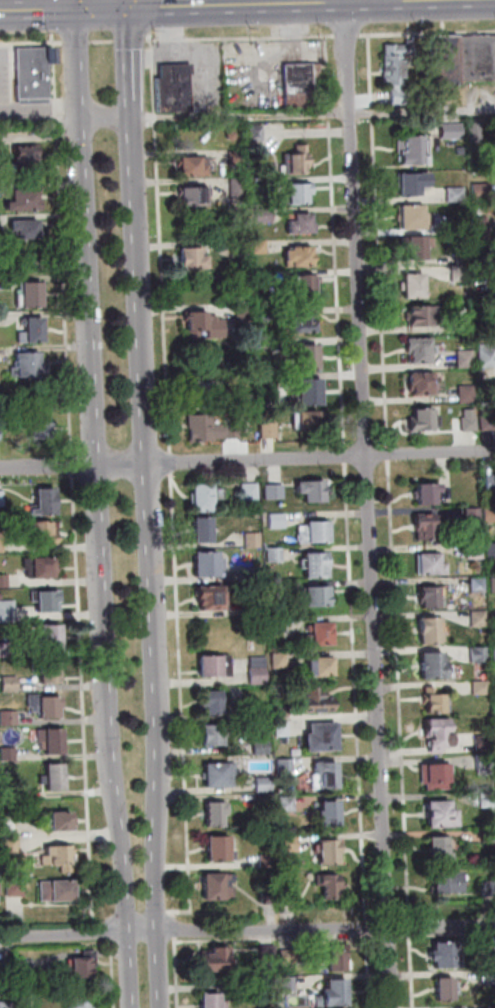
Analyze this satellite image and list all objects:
road: (385, 0)
road: (403, 0)
road: (366, 1)
road: (239, 2)
road: (130, 3)
road: (176, 3)
road: (78, 4)
road: (238, 4)
road: (26, 5)
traffic signals: (166, 6)
road: (104, 8)
road: (39, 10)
traffic signals: (46, 10)
road: (156, 14)
road: (55, 15)
road: (429, 33)
road: (350, 35)
road: (333, 36)
road: (132, 39)
road: (105, 40)
road: (79, 41)
road: (32, 42)
traffic signals: (132, 49)
road: (132, 51)
building: (478, 58)
building: (448, 60)
road: (78, 63)
building: (398, 68)
building: (35, 73)
parking lot: (5, 75)
building: (306, 85)
building: (176, 87)
road: (133, 106)
road: (40, 108)
road: (314, 113)
road: (106, 116)
road: (40, 118)
building: (453, 130)
building: (478, 131)
building: (259, 132)
building: (233, 135)
building: (415, 150)
building: (462, 150)
road: (333, 153)
building: (25, 157)
building: (238, 157)
building: (298, 160)
building: (195, 165)
building: (415, 181)
building: (259, 183)
building: (239, 187)
building: (483, 191)
building: (298, 193)
building: (457, 193)
building: (196, 195)
building: (26, 198)
building: (266, 215)
building: (415, 216)
building: (302, 223)
building: (458, 223)
building: (482, 223)
building: (27, 227)
road: (162, 239)
road: (380, 241)
road: (64, 242)
building: (261, 245)
building: (419, 246)
building: (242, 247)
building: (301, 255)
building: (193, 258)
building: (464, 258)
building: (462, 273)
building: (263, 278)
building: (306, 283)
building: (415, 284)
building: (35, 293)
building: (265, 311)
building: (245, 313)
building: (424, 314)
building: (483, 320)
building: (304, 322)
building: (205, 324)
building: (467, 324)
building: (35, 330)
building: (421, 348)
building: (487, 355)
building: (309, 356)
building: (467, 358)
building: (31, 364)
building: (270, 382)
building: (425, 382)
building: (202, 390)
building: (312, 391)
building: (469, 394)
building: (247, 401)
building: (310, 419)
building: (426, 420)
building: (471, 420)
building: (489, 422)
building: (41, 426)
building: (211, 428)
building: (270, 429)
building: (1, 433)
road: (390, 453)
road: (347, 456)
road: (247, 459)
road: (173, 462)
road: (75, 465)
building: (491, 482)
building: (313, 489)
building: (251, 491)
building: (275, 491)
building: (429, 493)
building: (204, 497)
building: (2, 498)
building: (46, 501)
road: (370, 505)
building: (475, 514)
building: (490, 514)
building: (279, 520)
building: (426, 525)
building: (204, 529)
building: (315, 531)
building: (43, 532)
building: (254, 540)
building: (2, 542)
building: (492, 549)
building: (477, 550)
building: (276, 554)
road: (150, 561)
road: (101, 563)
building: (433, 563)
building: (207, 564)
building: (318, 565)
building: (42, 567)
building: (256, 574)
building: (4, 581)
building: (494, 583)
building: (479, 585)
building: (278, 591)
building: (319, 595)
building: (2, 596)
building: (212, 596)
building: (431, 596)
building: (47, 600)
building: (257, 606)
building: (8, 611)
building: (481, 618)
building: (280, 623)
building: (433, 629)
building: (323, 633)
building: (50, 638)
building: (6, 649)
building: (481, 653)
building: (493, 653)
building: (281, 659)
building: (435, 665)
building: (212, 666)
building: (321, 666)
building: (482, 666)
building: (259, 670)
building: (50, 672)
building: (11, 684)
building: (482, 687)
road: (401, 690)
road: (357, 692)
road: (86, 700)
building: (438, 701)
building: (211, 702)
building: (319, 702)
road: (184, 703)
building: (47, 705)
building: (263, 710)
building: (11, 718)
building: (283, 724)
building: (440, 731)
building: (215, 734)
building: (323, 737)
building: (54, 740)
building: (485, 743)
building: (263, 747)
building: (437, 749)
building: (10, 754)
building: (486, 763)
building: (287, 766)
building: (221, 775)
building: (327, 775)
building: (437, 775)
building: (55, 777)
building: (265, 785)
building: (488, 799)
building: (289, 803)
building: (217, 813)
building: (442, 813)
building: (330, 814)
building: (63, 821)
building: (489, 835)
building: (292, 843)
building: (14, 846)
building: (220, 848)
building: (441, 849)
building: (331, 852)
building: (60, 855)
building: (269, 860)
building: (0, 871)
building: (449, 882)
building: (331, 885)
building: (215, 886)
building: (17, 887)
building: (489, 888)
building: (1, 889)
building: (59, 891)
building: (291, 895)
building: (271, 896)
building: (447, 925)
road: (412, 926)
road: (176, 927)
road: (370, 929)
road: (105, 931)
road: (247, 931)
road: (57, 945)
building: (269, 951)
building: (447, 955)
building: (289, 957)
building: (491, 958)
building: (216, 960)
building: (338, 960)
building: (84, 966)
building: (27, 967)
building: (5, 968)
road: (415, 970)
road: (115, 973)
road: (179, 973)
road: (371, 973)
building: (490, 979)
building: (290, 984)
building: (447, 989)
building: (254, 991)
building: (335, 994)
building: (213, 1000)
building: (80, 1002)
building: (8, 1005)

